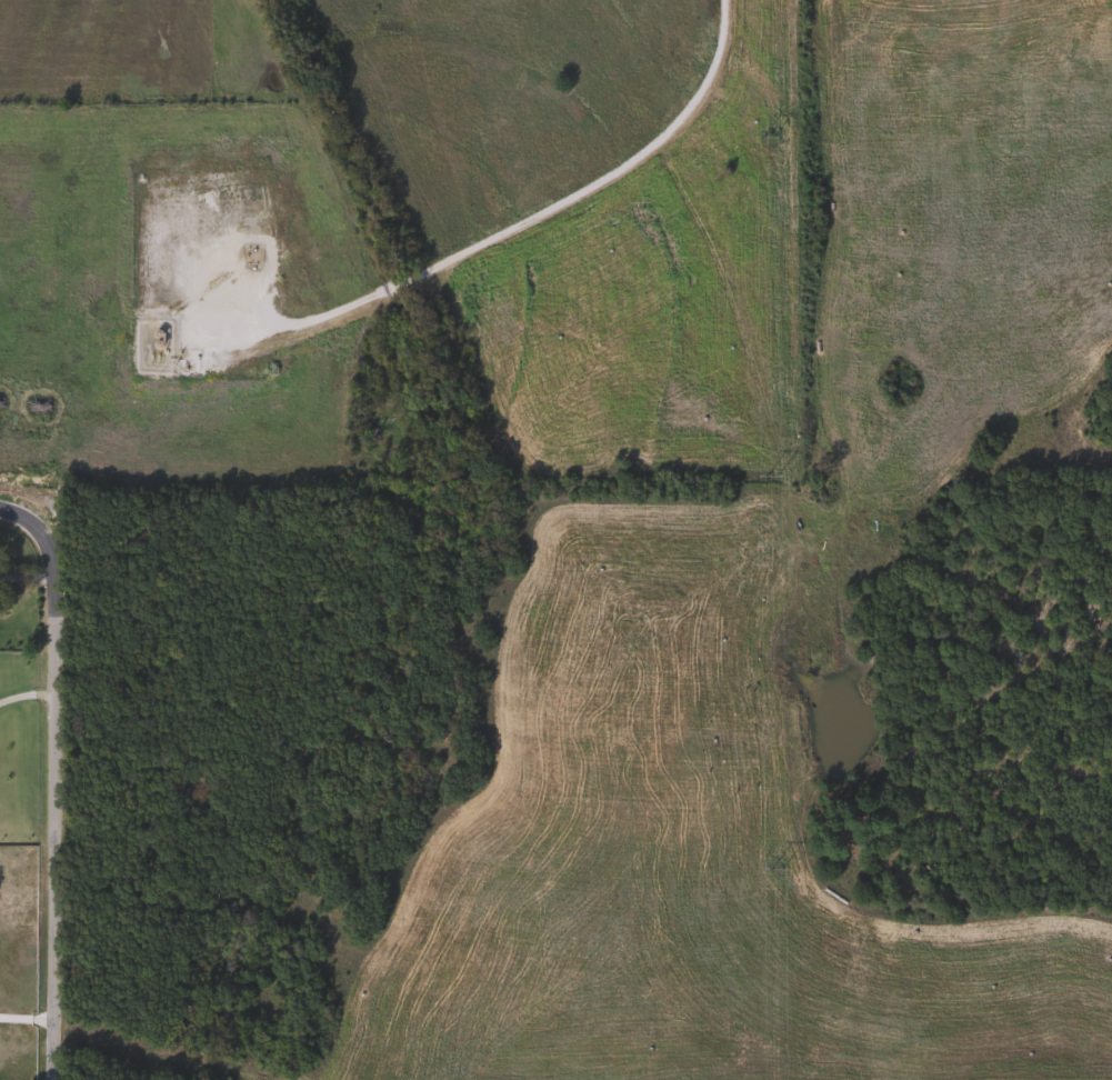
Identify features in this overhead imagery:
power tower: (769, 140)
road: (510, 222)
power tower: (771, 474)
road: (23, 697)
road: (48, 784)
power tower: (775, 870)
road: (26, 1017)

